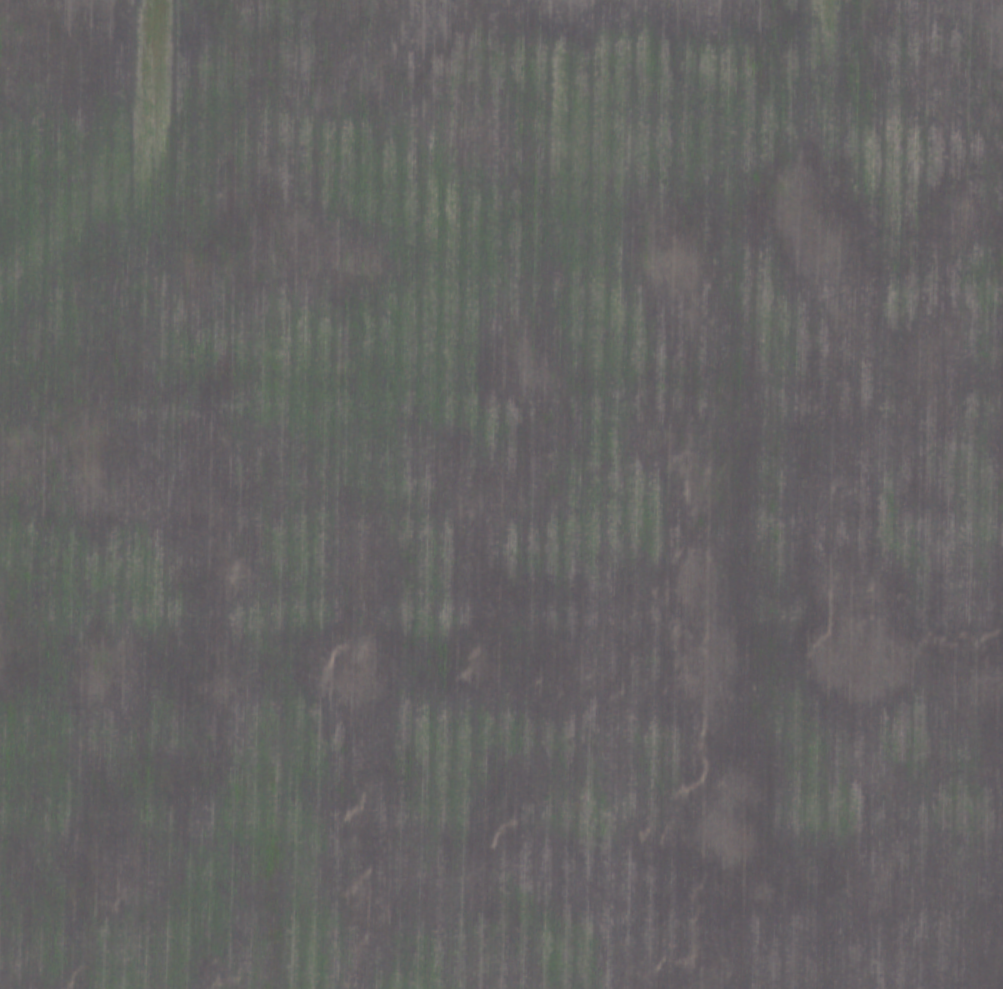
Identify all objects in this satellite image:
crop: (501, 494)

